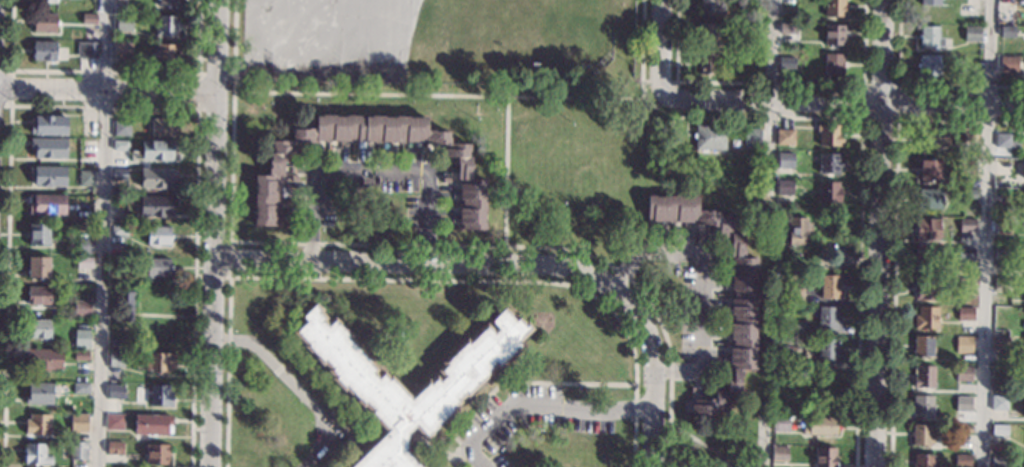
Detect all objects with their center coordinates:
building: (45, 0)
building: (752, 1)
building: (167, 3)
building: (930, 3)
building: (711, 7)
building: (834, 8)
building: (88, 18)
building: (44, 22)
building: (124, 23)
building: (166, 25)
building: (1007, 31)
building: (708, 33)
building: (972, 33)
building: (834, 34)
building: (930, 36)
road: (663, 40)
building: (783, 46)
building: (91, 49)
building: (123, 50)
building: (44, 51)
building: (166, 54)
building: (754, 60)
building: (787, 62)
building: (706, 63)
building: (833, 64)
building: (1008, 64)
building: (929, 65)
road: (108, 89)
road: (770, 102)
road: (838, 103)
building: (49, 125)
building: (121, 127)
building: (164, 127)
building: (829, 135)
building: (969, 135)
building: (785, 136)
building: (934, 136)
building: (710, 137)
building: (752, 137)
building: (1007, 140)
building: (120, 145)
building: (88, 147)
building: (48, 148)
building: (156, 150)
building: (785, 163)
building: (829, 163)
building: (968, 167)
building: (930, 170)
road: (370, 171)
building: (464, 172)
building: (49, 175)
building: (118, 175)
building: (85, 178)
building: (157, 178)
building: (784, 187)
building: (828, 191)
building: (968, 194)
building: (929, 198)
building: (46, 204)
building: (156, 206)
building: (85, 207)
building: (1023, 210)
building: (966, 226)
building: (1002, 226)
building: (927, 228)
building: (118, 230)
building: (797, 230)
road: (102, 233)
road: (216, 233)
road: (878, 233)
road: (987, 233)
building: (40, 234)
building: (157, 235)
building: (84, 246)
building: (965, 253)
building: (1002, 253)
building: (925, 258)
building: (83, 262)
road: (426, 264)
building: (795, 266)
building: (38, 267)
building: (157, 267)
building: (964, 283)
building: (1002, 283)
road: (704, 285)
building: (830, 287)
building: (927, 288)
building: (38, 296)
building: (794, 296)
building: (123, 305)
building: (81, 307)
building: (742, 307)
building: (965, 313)
building: (926, 317)
building: (828, 319)
building: (1000, 323)
building: (82, 324)
building: (38, 328)
building: (794, 329)
building: (81, 338)
building: (1000, 342)
building: (116, 343)
building: (963, 345)
building: (923, 347)
building: (828, 348)
building: (80, 355)
building: (792, 355)
building: (43, 359)
building: (116, 359)
building: (158, 362)
building: (963, 373)
building: (998, 373)
building: (923, 376)
road: (654, 380)
building: (828, 381)
road: (295, 385)
building: (80, 387)
building: (372, 388)
building: (115, 391)
building: (39, 394)
building: (160, 395)
building: (998, 402)
building: (963, 404)
road: (542, 405)
building: (922, 405)
building: (1023, 410)
building: (114, 421)
building: (78, 423)
building: (781, 423)
building: (37, 424)
building: (152, 424)
building: (820, 426)
building: (963, 428)
building: (999, 430)
building: (922, 436)
road: (761, 437)
building: (114, 448)
building: (77, 450)
building: (36, 454)
building: (156, 454)
building: (779, 454)
building: (825, 457)
building: (922, 460)
building: (999, 460)
building: (962, 461)

